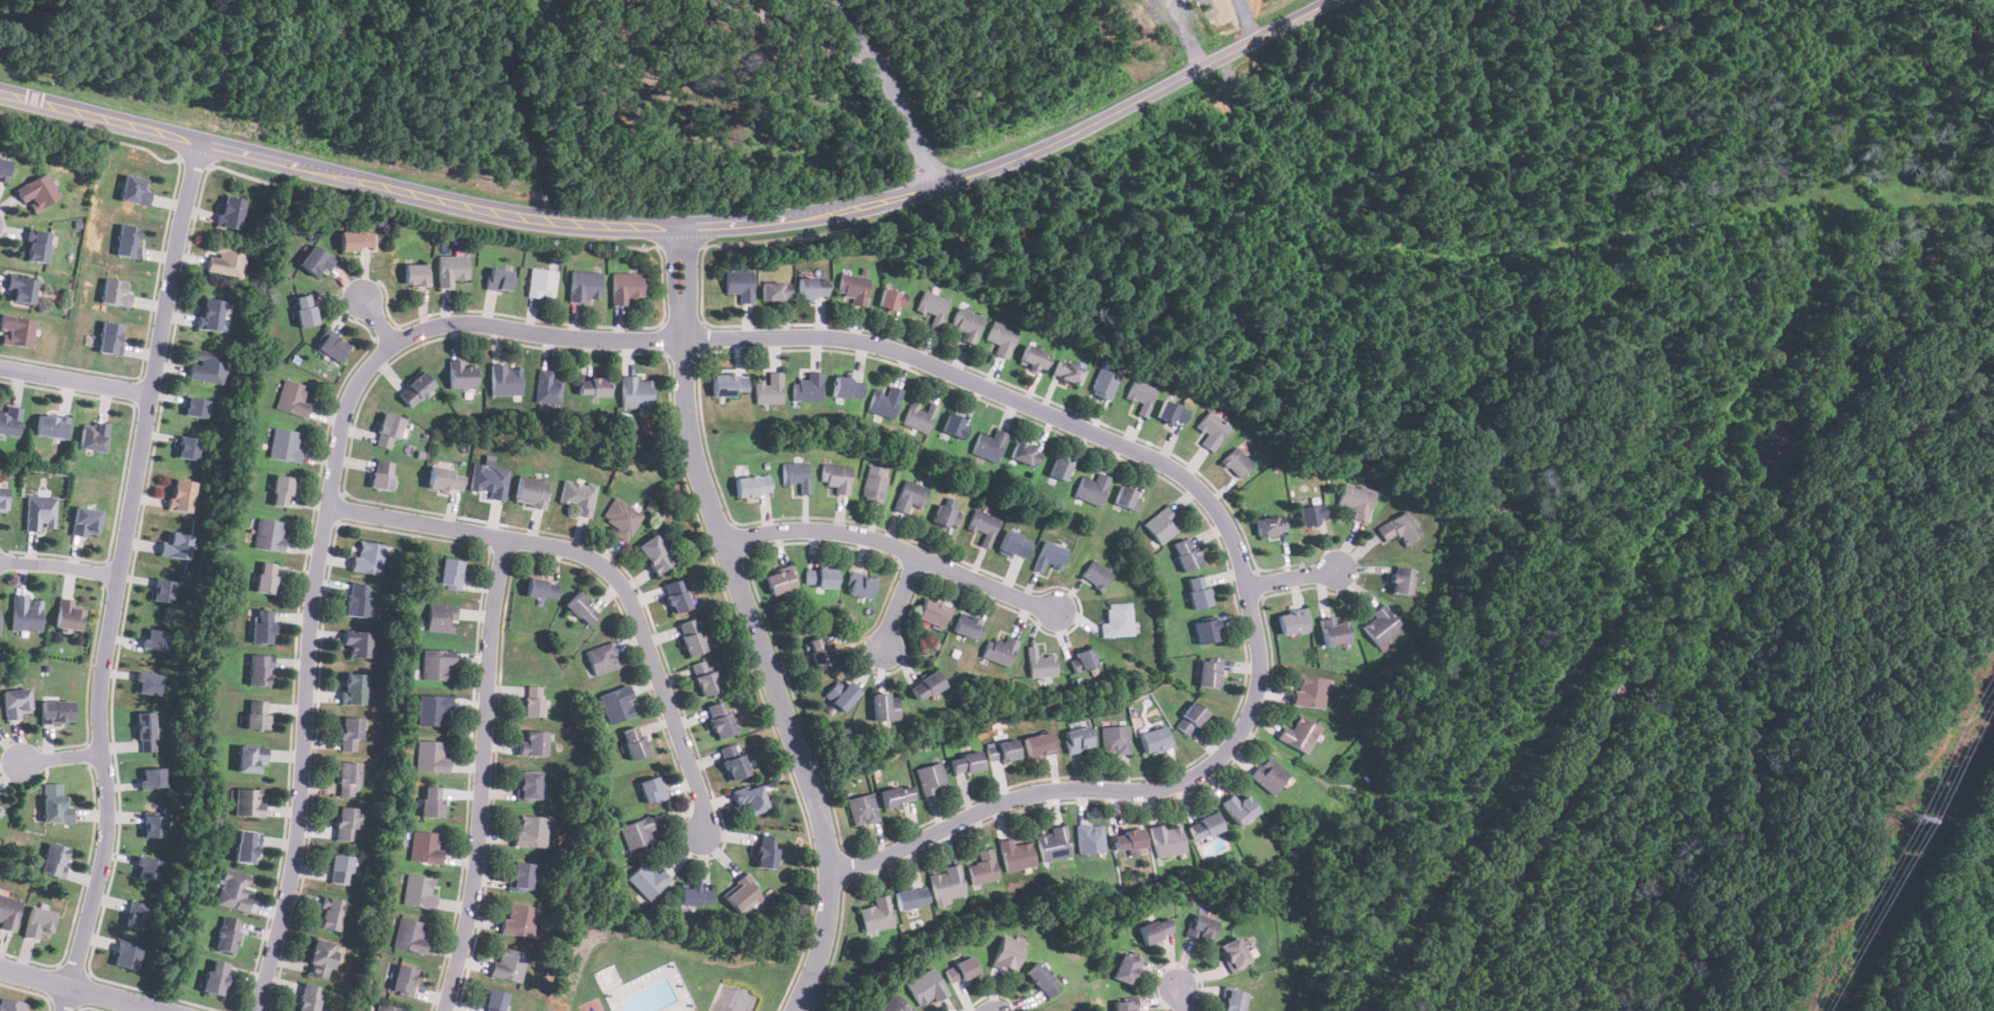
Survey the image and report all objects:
road: (1186, 32)
road: (807, 33)
road: (889, 89)
building: (4, 169)
building: (135, 189)
building: (38, 191)
building: (229, 212)
road: (681, 225)
building: (126, 240)
building: (355, 240)
building: (37, 246)
building: (226, 259)
building: (315, 260)
building: (451, 268)
building: (415, 274)
building: (499, 279)
building: (541, 283)
building: (740, 284)
building: (585, 286)
building: (626, 286)
building: (21, 288)
building: (812, 288)
building: (854, 288)
building: (775, 290)
building: (115, 292)
building: (891, 299)
building: (932, 306)
building: (304, 309)
building: (210, 314)
road: (379, 321)
building: (967, 324)
building: (18, 330)
building: (109, 337)
building: (1001, 337)
road: (818, 338)
building: (332, 347)
building: (1034, 357)
building: (208, 365)
building: (1068, 372)
building: (462, 374)
building: (504, 380)
road: (76, 381)
building: (1104, 384)
building: (728, 385)
building: (548, 386)
building: (593, 386)
building: (847, 387)
building: (769, 388)
building: (808, 388)
building: (415, 389)
building: (636, 392)
building: (1141, 394)
building: (292, 398)
building: (885, 401)
building: (193, 405)
building: (1173, 412)
building: (919, 417)
building: (10, 419)
building: (50, 425)
building: (954, 425)
building: (387, 427)
building: (1211, 429)
building: (93, 437)
building: (989, 444)
building: (284, 445)
building: (186, 446)
building: (1025, 453)
building: (1237, 462)
building: (1059, 468)
building: (382, 475)
building: (796, 475)
building: (836, 476)
building: (445, 478)
building: (490, 480)
building: (751, 485)
building: (873, 488)
building: (1092, 488)
building: (280, 490)
building: (531, 492)
building: (180, 495)
building: (578, 496)
building: (909, 496)
building: (1126, 497)
building: (2, 499)
building: (1357, 500)
building: (39, 511)
building: (1311, 516)
building: (622, 517)
building: (944, 517)
building: (85, 522)
building: (1162, 524)
building: (1269, 524)
building: (983, 525)
building: (1399, 528)
building: (269, 534)
building: (1013, 544)
building: (174, 545)
road: (889, 546)
building: (1186, 553)
building: (654, 554)
building: (1049, 555)
building: (369, 557)
road: (60, 564)
road: (606, 568)
building: (450, 573)
building: (1096, 575)
road: (119, 576)
building: (266, 577)
building: (820, 577)
road: (1293, 578)
building: (1400, 580)
building: (779, 581)
building: (860, 584)
building: (541, 588)
building: (160, 590)
building: (1198, 592)
building: (675, 596)
building: (356, 599)
road: (898, 603)
building: (581, 608)
building: (26, 613)
building: (68, 613)
building: (931, 614)
building: (441, 617)
building: (1117, 619)
road: (750, 622)
building: (1291, 622)
building: (1380, 625)
building: (261, 626)
building: (968, 626)
building: (1206, 631)
building: (1334, 631)
building: (690, 636)
building: (153, 637)
building: (358, 643)
building: (999, 650)
building: (820, 651)
building: (602, 657)
building: (1082, 659)
building: (1040, 663)
building: (436, 664)
building: (258, 670)
building: (1209, 673)
building: (704, 677)
building: (146, 681)
building: (925, 685)
building: (354, 689)
building: (1309, 691)
building: (841, 694)
building: (533, 701)
building: (15, 702)
building: (616, 704)
building: (884, 706)
building: (433, 708)
building: (56, 711)
building: (257, 714)
building: (1190, 718)
building: (720, 719)
building: (144, 731)
building: (350, 734)
building: (1299, 734)
building: (1078, 739)
building: (1115, 739)
building: (1154, 740)
building: (634, 742)
building: (532, 743)
building: (1039, 744)
building: (1002, 751)
building: (431, 756)
road: (62, 758)
building: (250, 759)
building: (733, 761)
building: (966, 762)
building: (1269, 775)
building: (149, 777)
road: (482, 777)
building: (347, 778)
building: (931, 778)
building: (527, 785)
building: (651, 788)
building: (896, 796)
building: (750, 798)
building: (432, 801)
building: (247, 802)
building: (1, 807)
building: (1238, 808)
building: (56, 809)
building: (862, 809)
building: (1, 810)
power tower: (1914, 817)
building: (344, 823)
building: (150, 824)
building: (1204, 826)
building: (531, 830)
building: (638, 835)
building: (1090, 838)
building: (1167, 839)
building: (1129, 840)
building: (1053, 844)
building: (425, 846)
building: (244, 847)
building: (765, 851)
building: (1015, 855)
building: (53, 860)
building: (146, 866)
building: (983, 867)
building: (339, 869)
building: (521, 875)
building: (648, 881)
building: (946, 883)
building: (233, 890)
building: (419, 891)
building: (742, 893)
building: (694, 896)
building: (911, 897)
building: (8, 911)
building: (330, 914)
building: (876, 914)
building: (132, 915)
building: (518, 919)
building: (37, 922)
building: (1200, 927)
building: (1155, 930)
building: (226, 934)
building: (410, 934)
building: (1008, 953)
building: (1233, 954)
building: (124, 955)
building: (320, 958)
building: (508, 964)
building: (1127, 968)
building: (961, 970)
building: (215, 977)
building: (403, 979)
building: (1042, 979)
building: (926, 987)
road: (77, 990)
building: (307, 997)
road: (1184, 997)
building: (1233, 999)
building: (494, 1000)
road: (733, 1002)
building: (894, 1004)
building: (11, 1005)
building: (1124, 1005)
building: (386, 1008)

